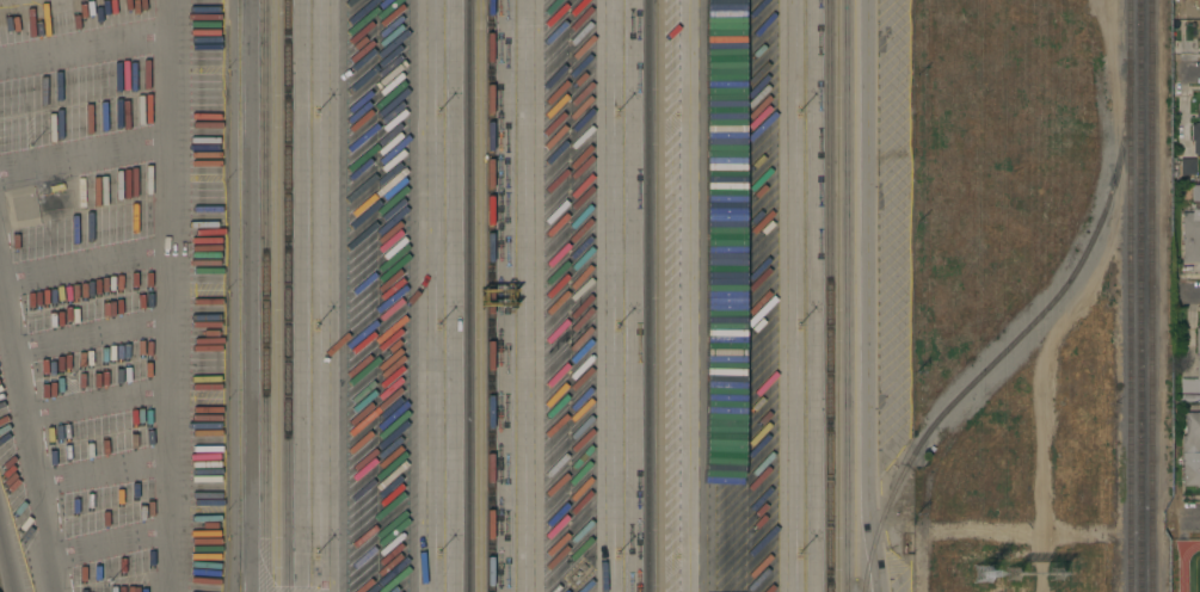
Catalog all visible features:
building: (722, 1)
building: (753, 20)
building: (1199, 27)
building: (721, 47)
road: (1192, 70)
building: (753, 81)
building: (722, 111)
building: (1195, 132)
building: (753, 162)
building: (1187, 166)
building: (722, 172)
building: (1195, 192)
building: (1190, 235)
building: (753, 246)
building: (721, 252)
railway: (267, 295)
railway: (288, 295)
railway: (848, 295)
railway: (1127, 295)
road: (1194, 295)
road: (166, 296)
road: (244, 296)
road: (327, 296)
road: (423, 296)
railway: (470, 296)
railway: (492, 296)
road: (527, 296)
road: (607, 296)
railway: (650, 296)
road: (697, 296)
road: (787, 296)
railway: (831, 296)
road: (870, 296)
railway: (1137, 296)
railway: (1152, 296)
building: (753, 327)
building: (721, 333)
railway: (1016, 335)
building: (1198, 365)
building: (753, 408)
building: (721, 414)
road: (27, 434)
building: (1190, 450)
building: (753, 489)
road: (1190, 520)
building: (722, 524)
road: (6, 559)
building: (753, 562)
power tower: (984, 573)
power tower: (1058, 575)
power tower: (1015, 576)
power tower: (1030, 578)

